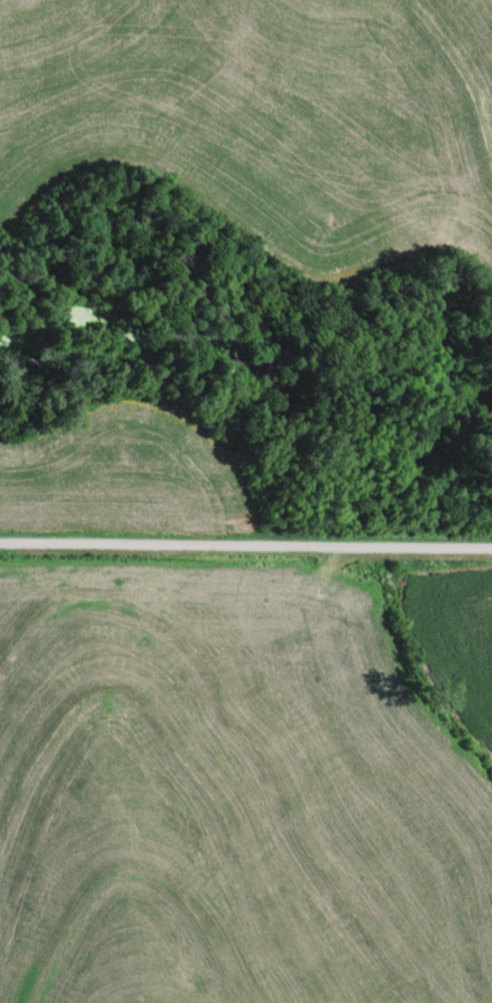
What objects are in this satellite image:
road: (246, 541)

